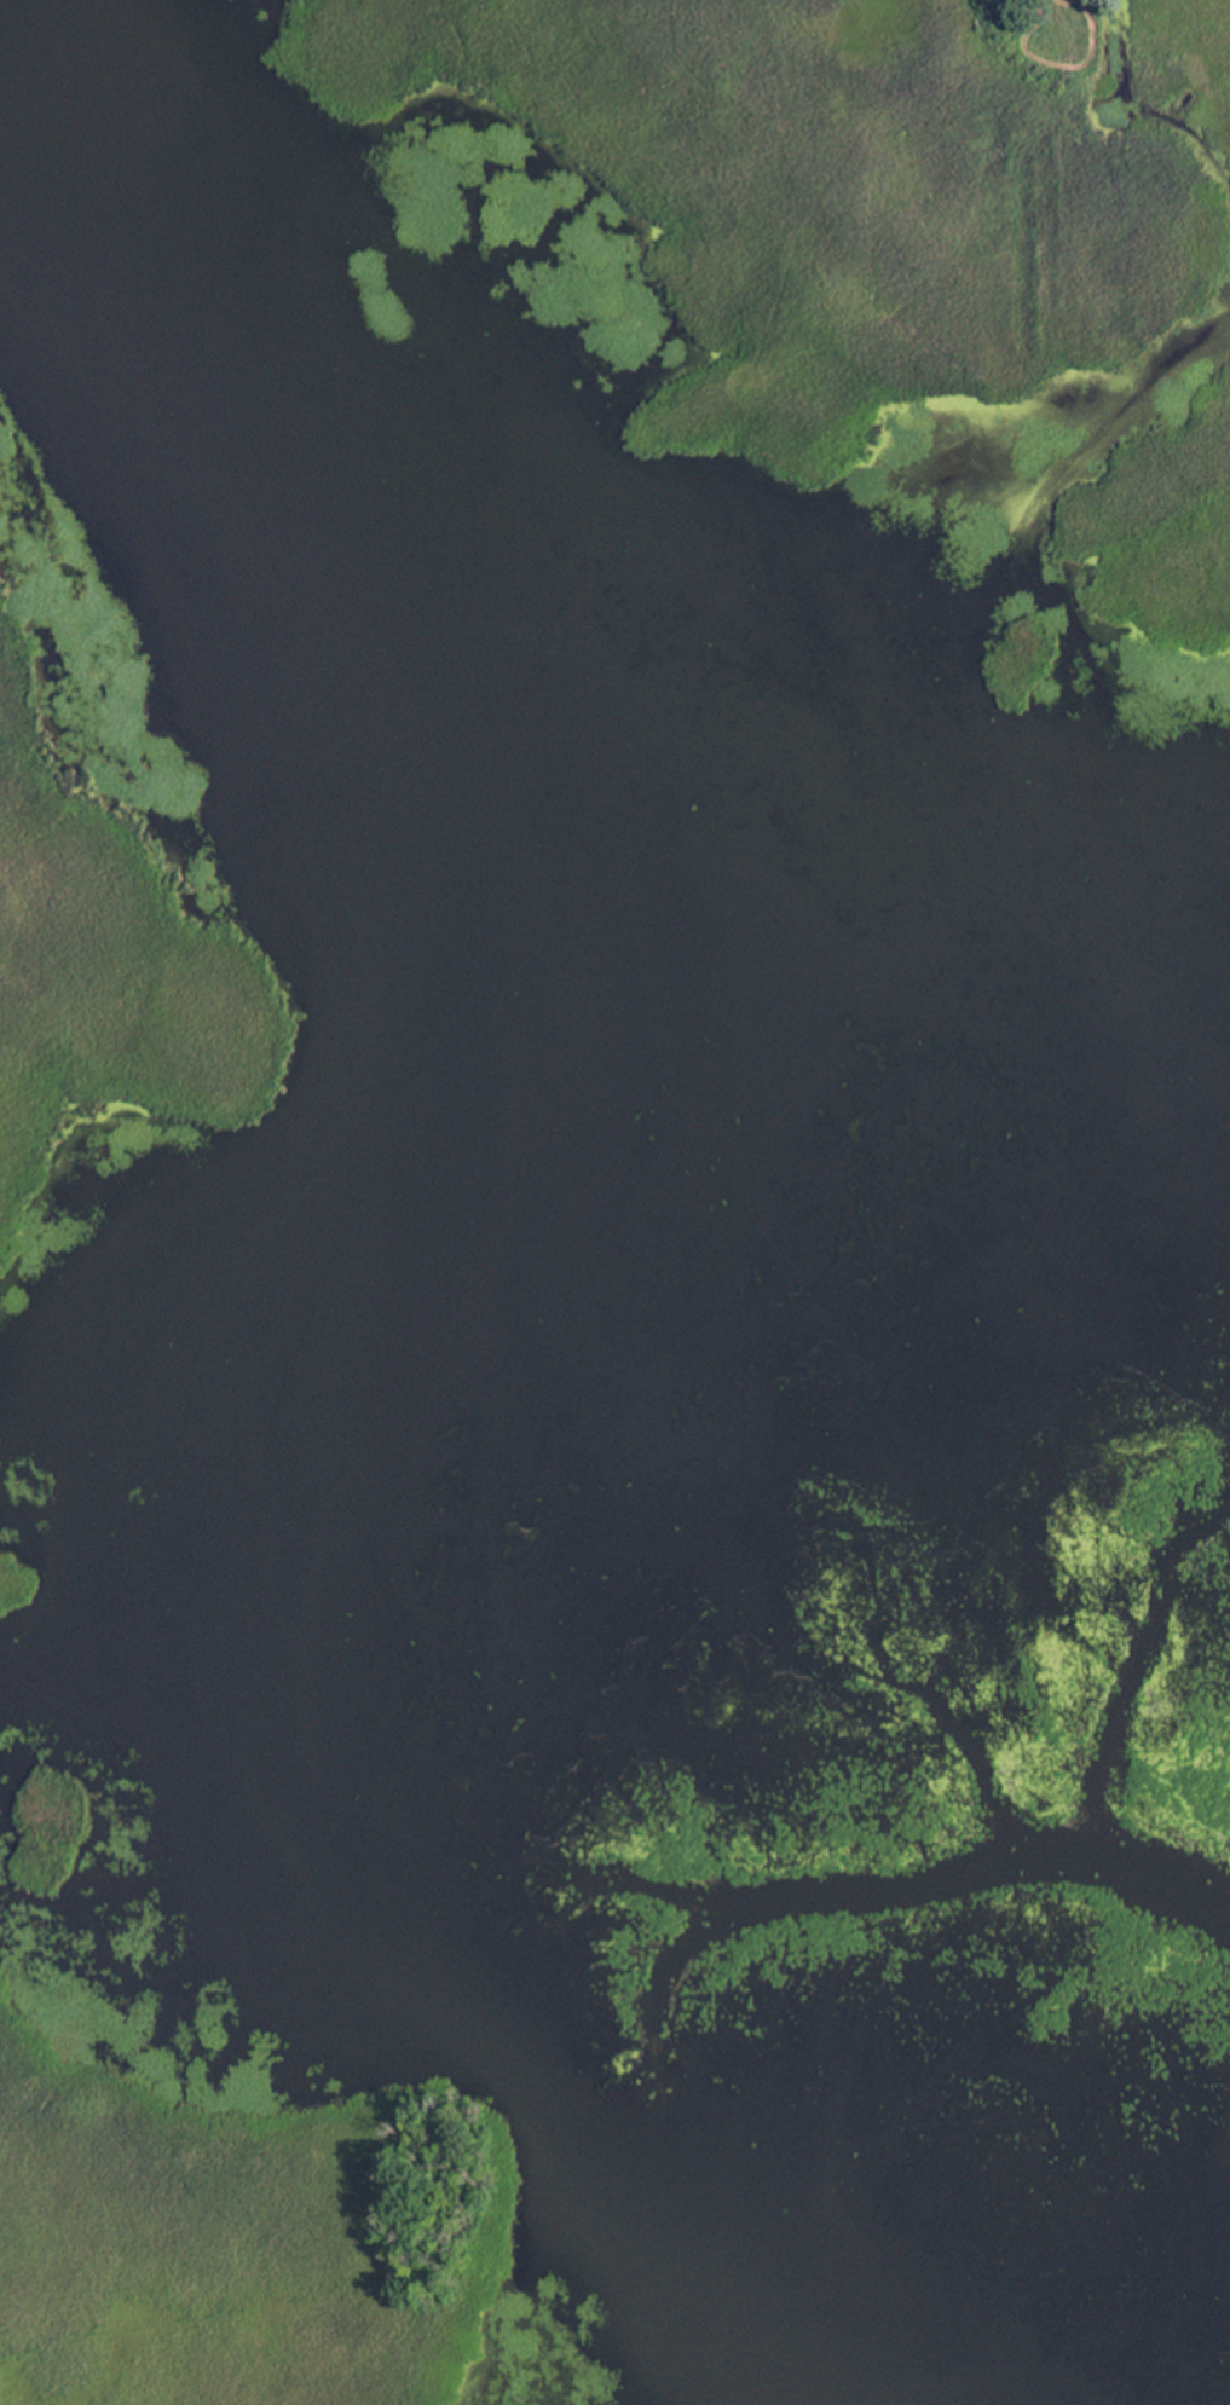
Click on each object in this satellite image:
river: (867, 1083)

